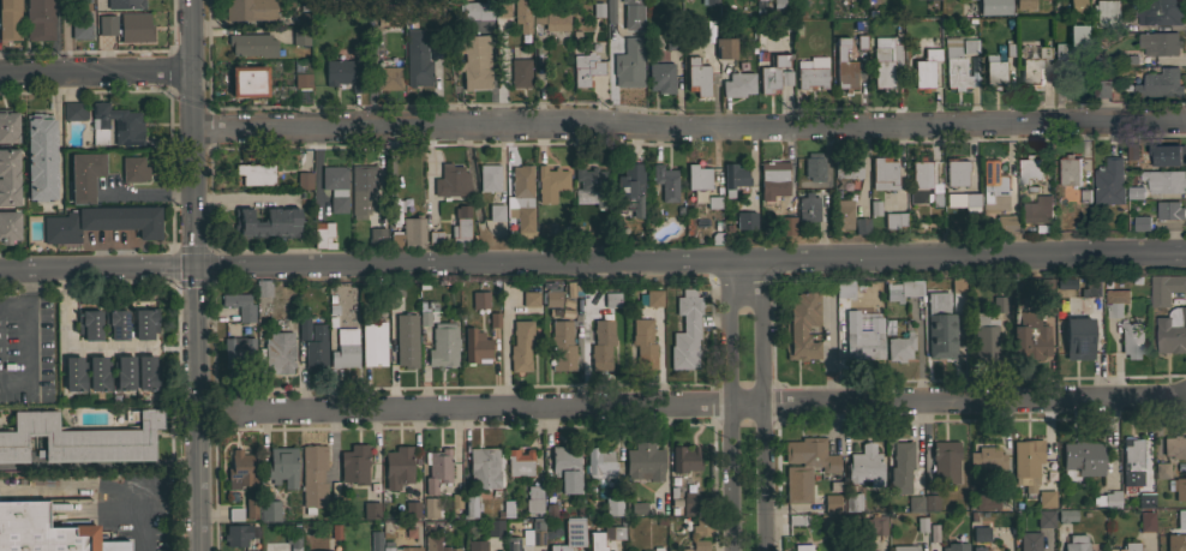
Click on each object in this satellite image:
building: (80, 0)
building: (757, 0)
building: (927, 0)
building: (708, 1)
building: (781, 2)
building: (125, 4)
building: (1024, 4)
building: (1077, 6)
building: (994, 7)
building: (501, 8)
building: (250, 10)
building: (477, 10)
building: (593, 11)
building: (610, 11)
building: (1104, 12)
building: (1160, 12)
building: (633, 13)
building: (522, 14)
building: (550, 14)
building: (388, 16)
building: (10, 19)
building: (38, 19)
building: (107, 24)
building: (80, 25)
building: (134, 28)
building: (299, 36)
building: (672, 41)
building: (1072, 42)
building: (1160, 43)
building: (252, 46)
building: (393, 46)
building: (969, 46)
building: (724, 48)
building: (419, 56)
building: (885, 60)
building: (926, 61)
building: (475, 62)
building: (629, 64)
building: (954, 65)
building: (585, 68)
building: (1032, 70)
road: (95, 71)
building: (993, 71)
building: (811, 72)
building: (343, 73)
building: (520, 73)
building: (774, 74)
building: (845, 74)
building: (389, 76)
building: (660, 77)
building: (697, 77)
building: (301, 80)
building: (247, 82)
building: (737, 84)
building: (1161, 84)
building: (1102, 89)
building: (73, 110)
building: (115, 125)
building: (7, 126)
road: (688, 136)
road: (58, 138)
building: (1128, 154)
building: (1164, 155)
building: (40, 157)
building: (814, 167)
building: (847, 167)
building: (133, 169)
building: (1030, 169)
building: (1070, 170)
building: (956, 172)
building: (256, 173)
road: (429, 173)
building: (883, 173)
building: (773, 174)
building: (84, 175)
building: (8, 176)
building: (697, 176)
building: (489, 178)
building: (733, 178)
building: (304, 180)
building: (920, 180)
building: (450, 181)
building: (665, 181)
building: (1164, 181)
building: (550, 182)
building: (591, 182)
building: (1109, 182)
building: (335, 187)
building: (993, 187)
building: (629, 188)
building: (363, 190)
building: (1131, 194)
road: (245, 197)
building: (966, 199)
building: (522, 200)
building: (808, 208)
building: (1037, 210)
building: (1168, 210)
building: (496, 212)
building: (844, 212)
building: (745, 220)
building: (894, 220)
building: (100, 223)
building: (266, 223)
building: (1005, 223)
building: (1142, 223)
building: (786, 224)
building: (8, 226)
building: (460, 226)
building: (861, 226)
building: (409, 233)
building: (323, 234)
building: (376, 238)
building: (435, 238)
road: (593, 262)
road: (194, 275)
building: (958, 285)
building: (263, 288)
building: (915, 288)
building: (1092, 288)
building: (844, 289)
building: (1164, 289)
building: (893, 292)
building: (529, 298)
building: (552, 298)
building: (653, 298)
building: (479, 300)
building: (611, 300)
building: (1115, 303)
building: (396, 304)
building: (998, 304)
road: (16, 305)
building: (239, 305)
building: (426, 311)
building: (487, 321)
building: (115, 323)
building: (145, 323)
building: (89, 324)
building: (801, 325)
building: (940, 325)
building: (303, 328)
building: (685, 330)
building: (1172, 331)
building: (1029, 335)
building: (984, 337)
building: (1078, 339)
building: (1131, 339)
building: (863, 342)
road: (31, 343)
building: (373, 343)
building: (600, 343)
building: (643, 343)
building: (443, 345)
road: (71, 346)
building: (520, 346)
building: (562, 346)
building: (475, 347)
building: (899, 347)
building: (345, 348)
building: (406, 348)
parking lot: (26, 349)
building: (316, 349)
building: (238, 352)
building: (278, 352)
building: (74, 373)
building: (97, 373)
building: (122, 373)
building: (146, 373)
road: (731, 402)
road: (763, 402)
road: (711, 407)
building: (79, 438)
building: (1174, 447)
building: (1131, 456)
building: (684, 459)
building: (1080, 459)
building: (945, 460)
building: (643, 461)
building: (986, 461)
building: (519, 462)
building: (599, 462)
building: (1026, 462)
building: (354, 465)
building: (281, 466)
building: (397, 466)
building: (805, 466)
building: (864, 466)
building: (1160, 466)
building: (485, 467)
building: (565, 467)
building: (900, 467)
building: (437, 468)
building: (239, 469)
building: (312, 475)
building: (1178, 487)
building: (1046, 498)
building: (533, 499)
building: (983, 499)
building: (1107, 499)
building: (831, 502)
building: (851, 502)
building: (930, 502)
building: (1140, 502)
building: (914, 503)
building: (689, 504)
building: (469, 505)
building: (613, 505)
building: (250, 508)
building: (412, 508)
building: (430, 508)
building: (635, 508)
building: (269, 510)
building: (371, 510)
building: (230, 515)
building: (1066, 515)
building: (1044, 519)
building: (1180, 519)
road: (143, 521)
building: (1145, 521)
building: (827, 522)
building: (700, 526)
building: (877, 526)
building: (493, 527)
building: (40, 529)
building: (534, 532)
building: (574, 533)
building: (978, 533)
building: (236, 534)
building: (696, 539)
building: (375, 540)
building: (294, 541)
building: (597, 541)
building: (1029, 541)
building: (1175, 541)
building: (511, 543)
building: (1076, 543)
building: (436, 544)
building: (477, 545)
building: (858, 545)
building: (953, 546)
building: (1128, 546)
building: (552, 547)
building: (802, 547)
building: (905, 547)
building: (401, 549)
building: (655, 549)
building: (679, 549)
building: (977, 549)

